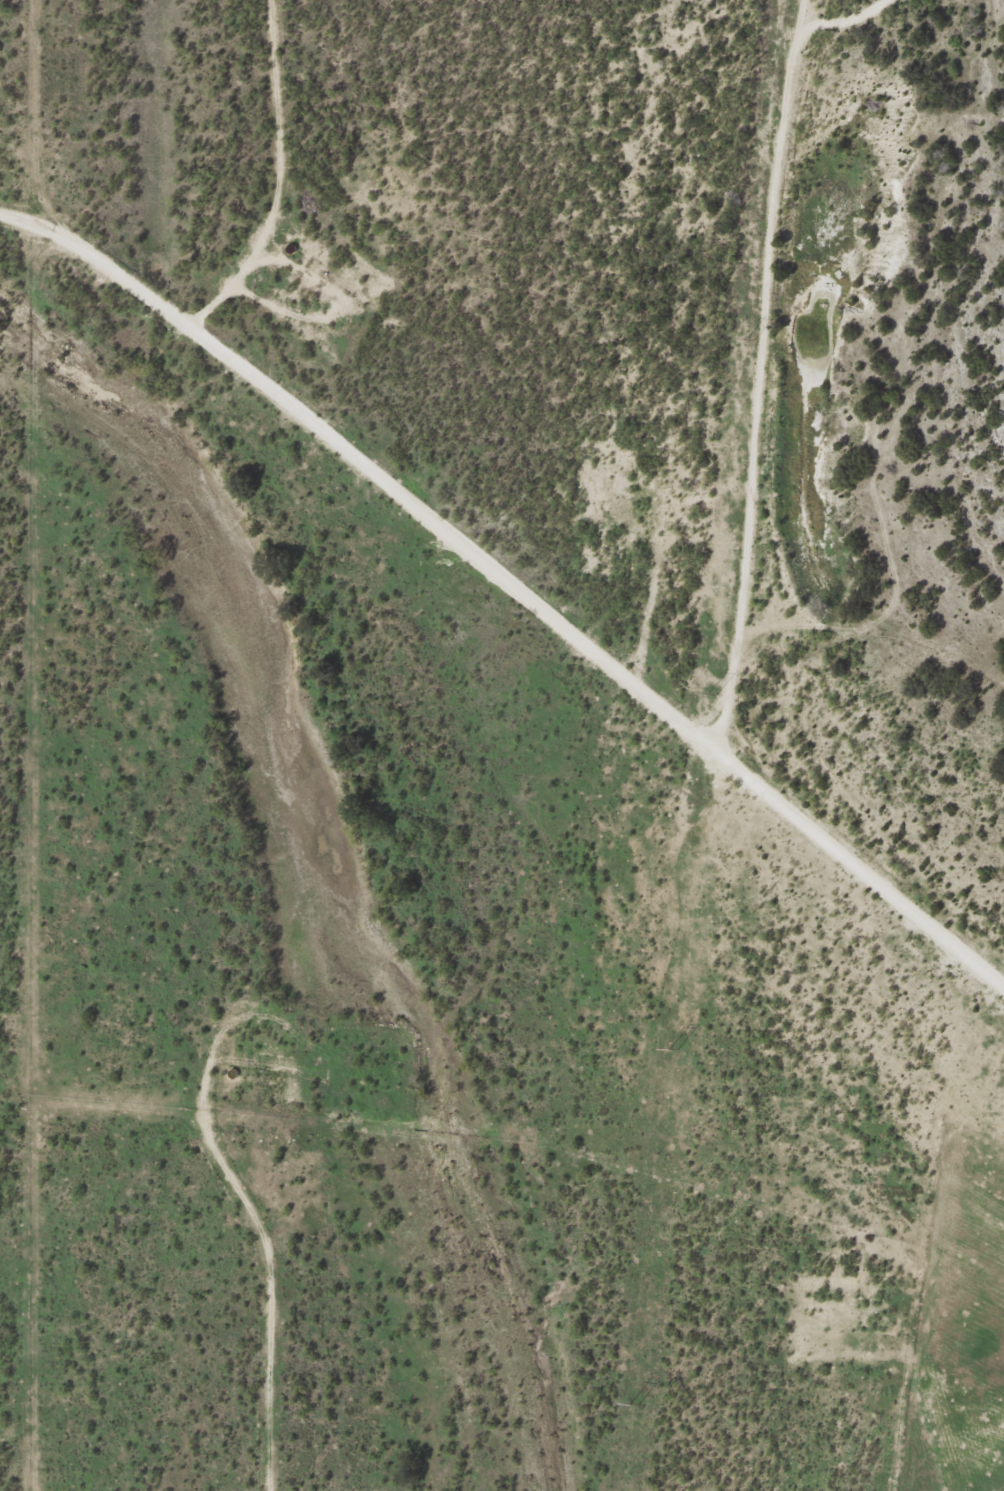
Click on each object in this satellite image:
power tower: (753, 340)
road: (512, 575)
power tower: (717, 694)
river: (322, 868)
power tower: (675, 1048)
power tower: (635, 1403)
road: (924, 1413)

